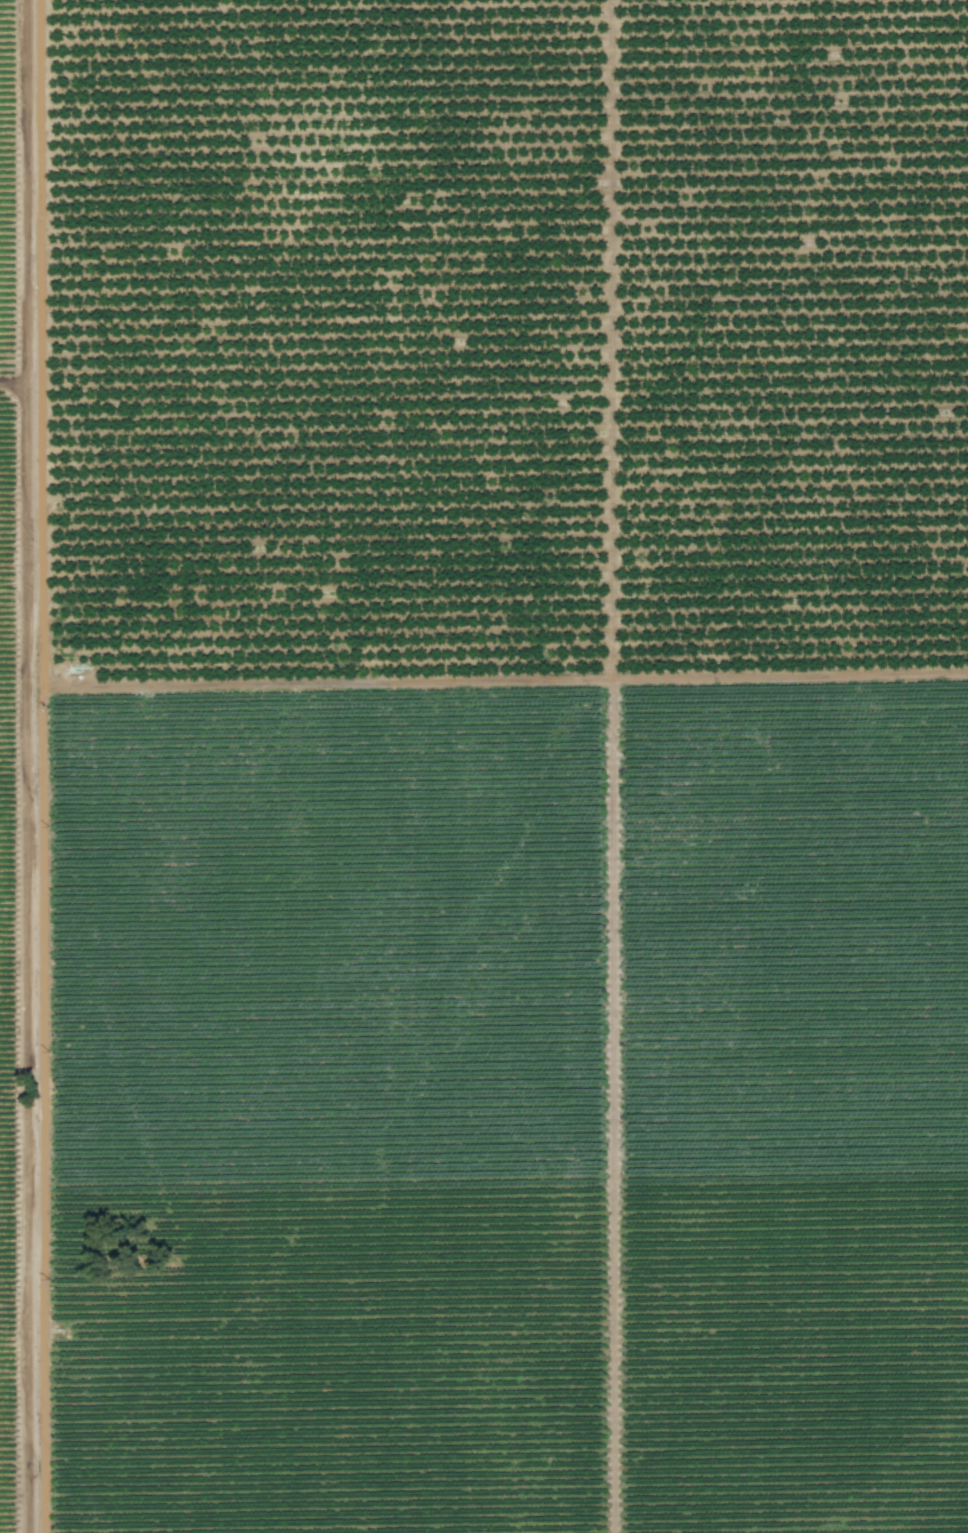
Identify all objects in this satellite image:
road: (19, 199)
road: (84, 687)
road: (14, 959)
road: (609, 1107)

